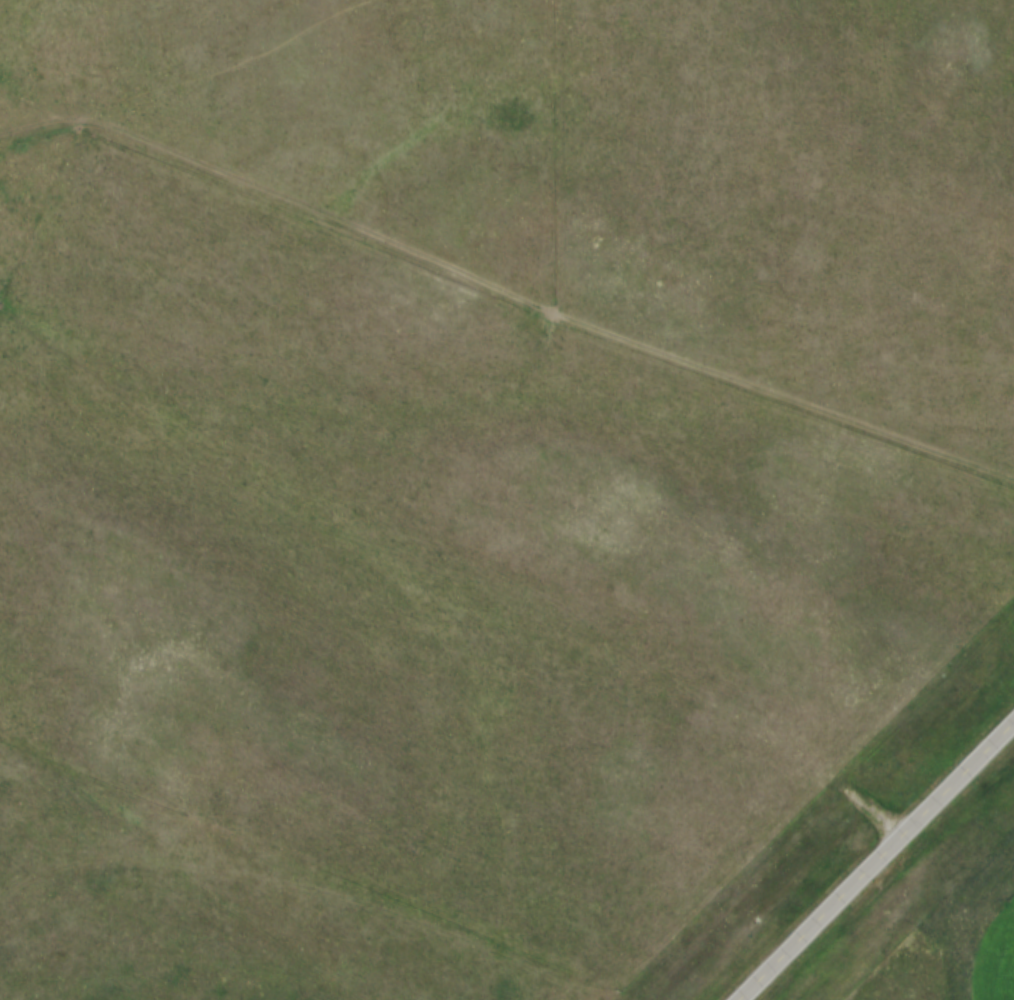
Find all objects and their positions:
road: (879, 864)

